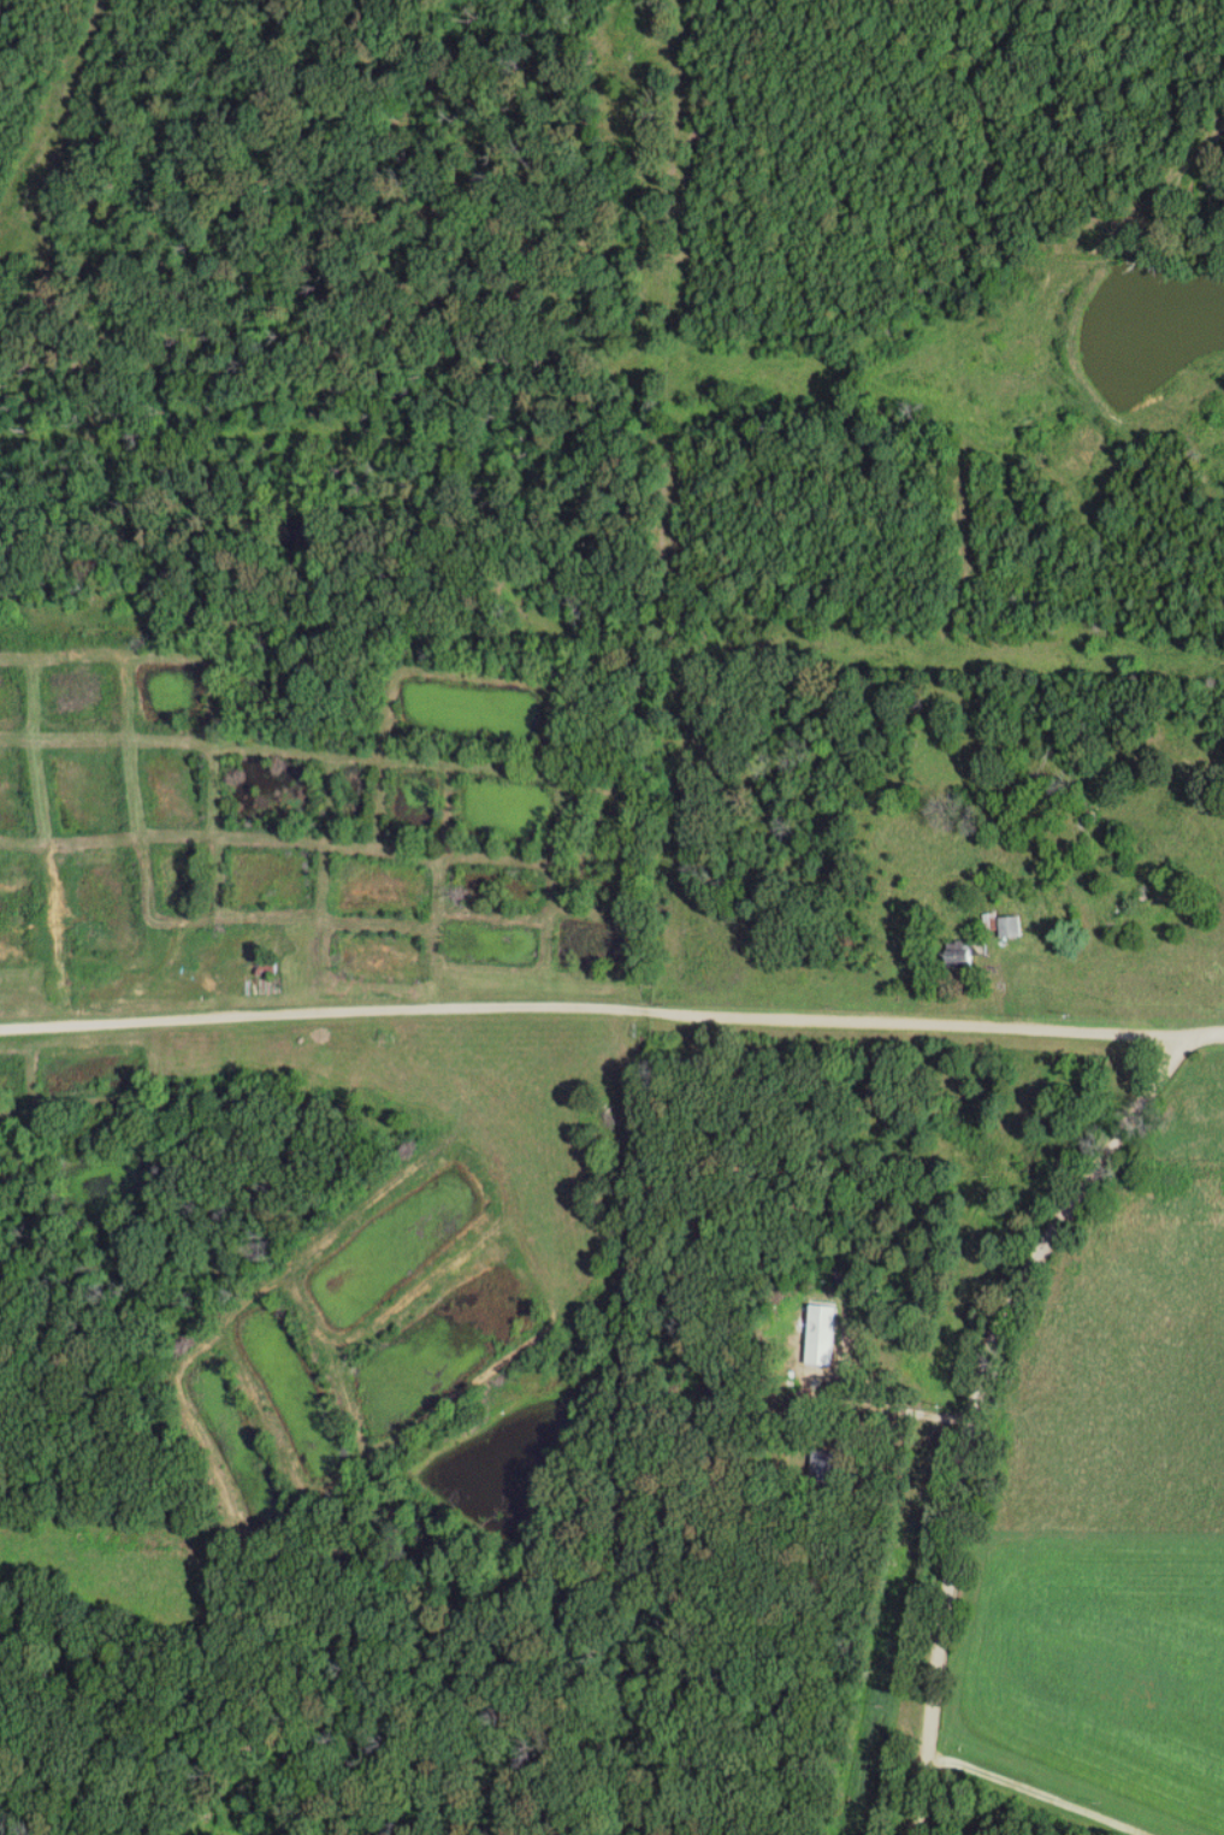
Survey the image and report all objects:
building: (1011, 926)
building: (960, 955)
road: (592, 1007)
building: (822, 1323)
road: (982, 1392)
building: (824, 1464)
road: (1036, 1790)

